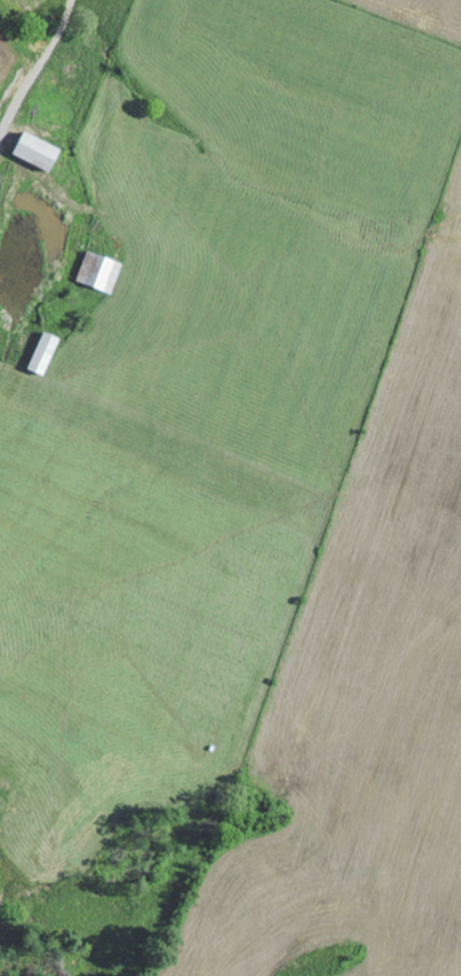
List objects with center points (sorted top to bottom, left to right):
building: (42, 153)
building: (101, 272)
building: (47, 354)

